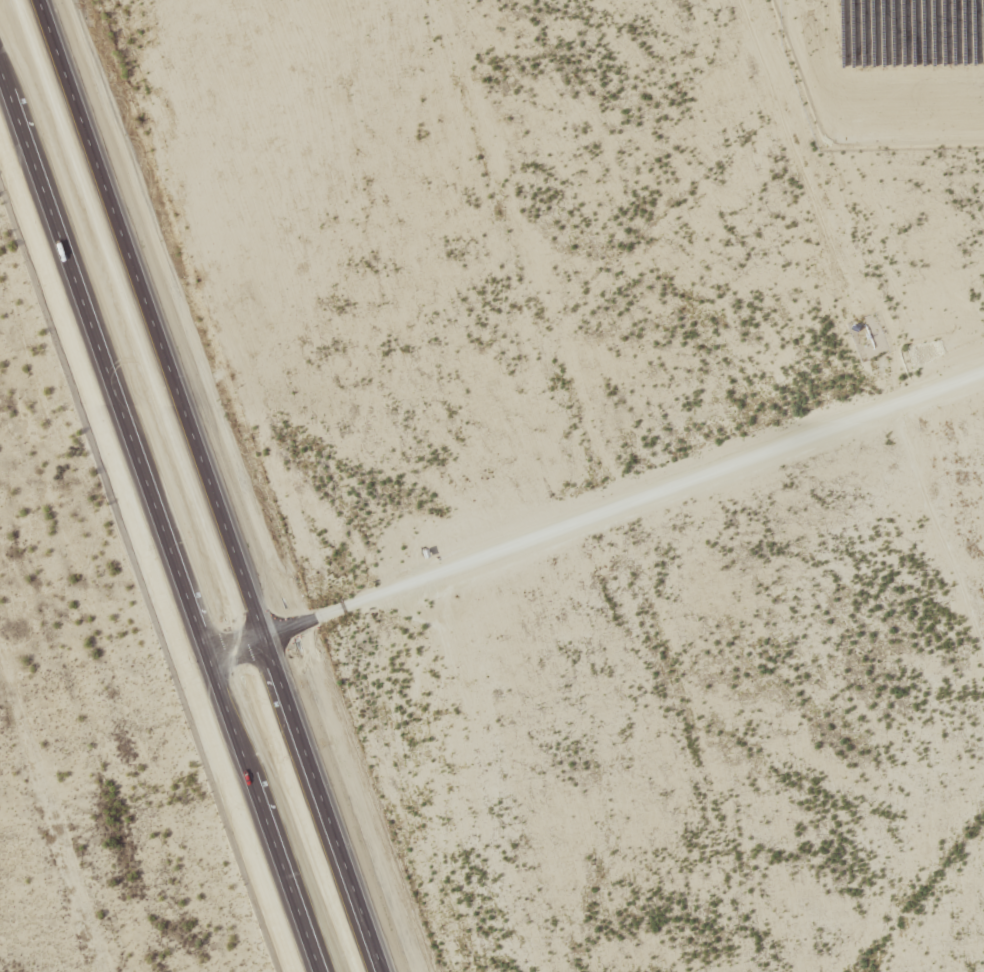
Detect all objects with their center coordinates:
road: (213, 486)

